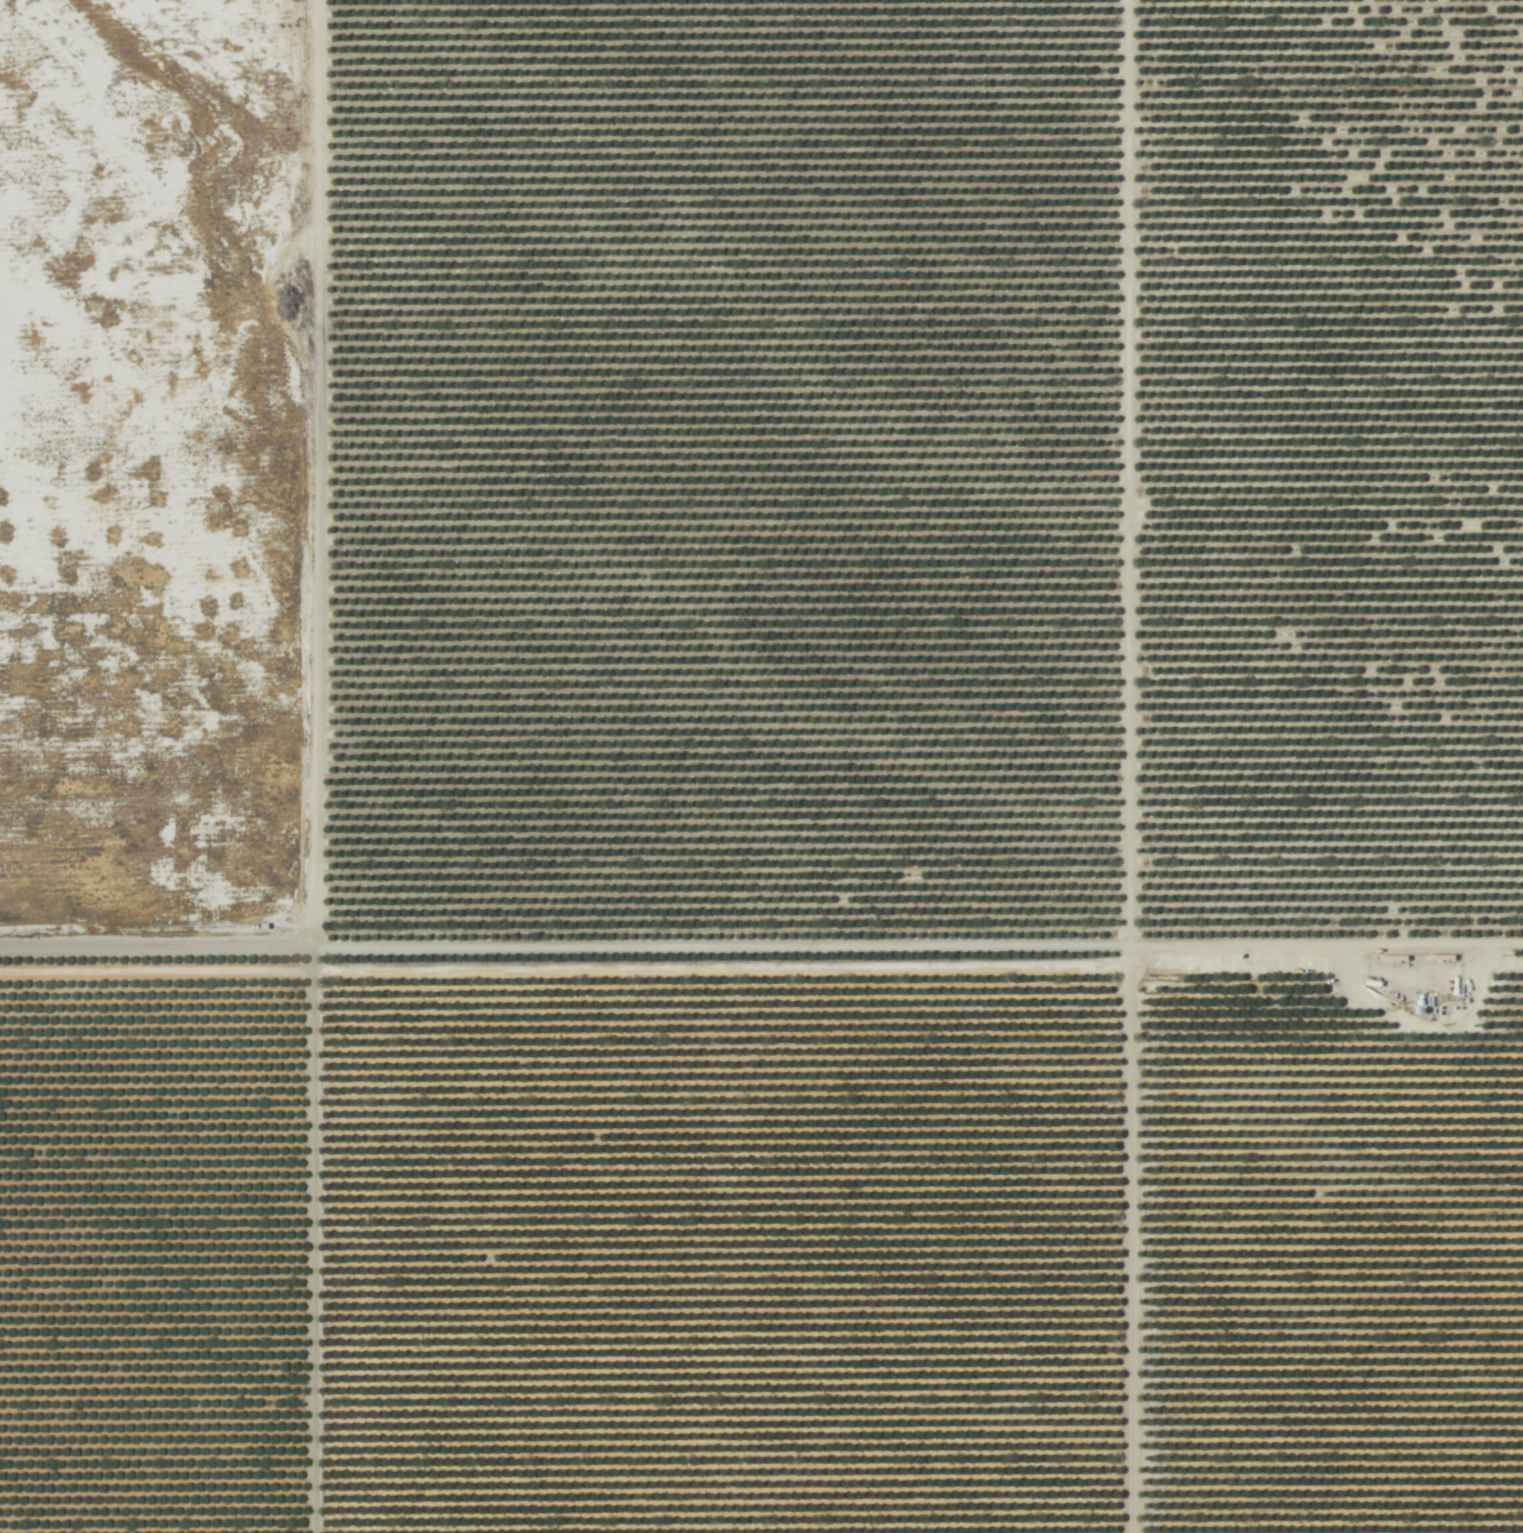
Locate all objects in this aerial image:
building: (807, 35)
building: (1078, 182)
building: (923, 359)
crop: (850, 809)
road: (761, 958)

